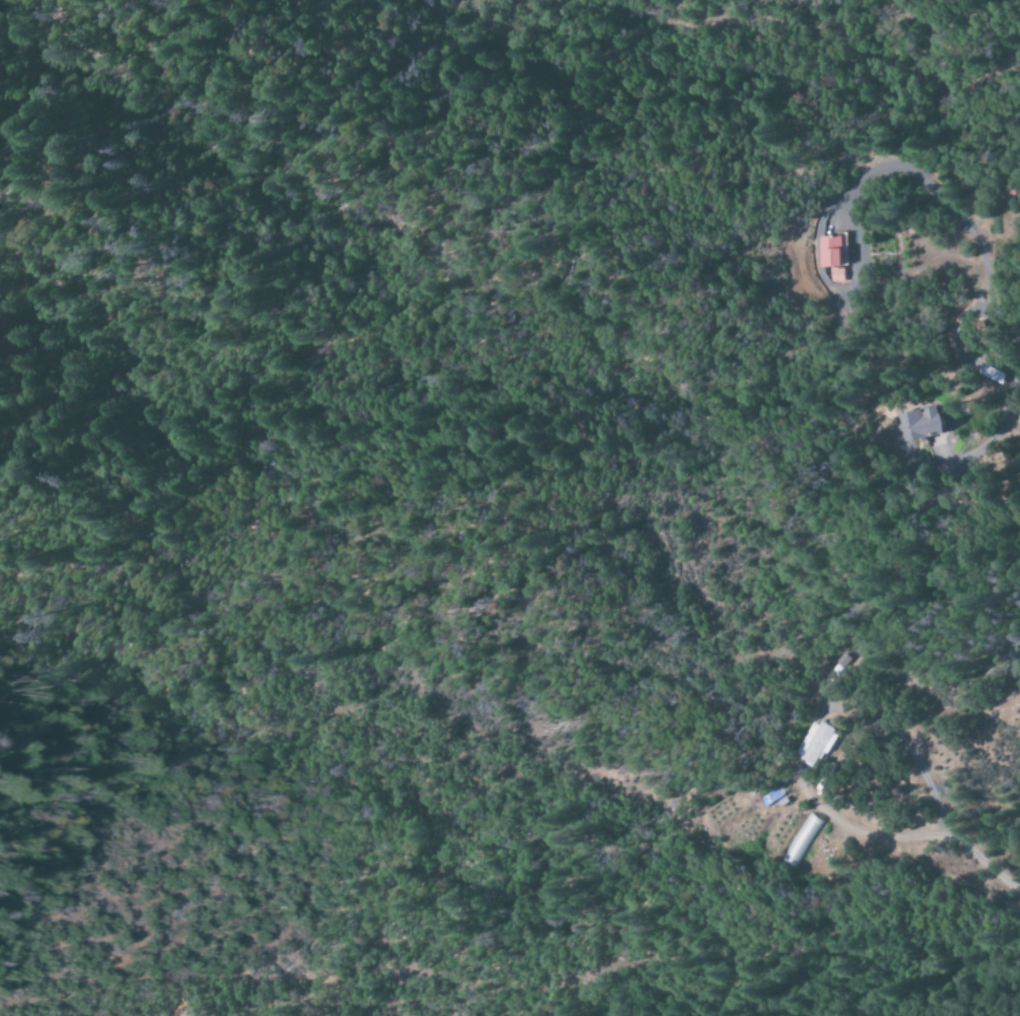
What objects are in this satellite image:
building: (833, 252)
building: (836, 276)
building: (923, 425)
building: (812, 744)
building: (770, 796)

